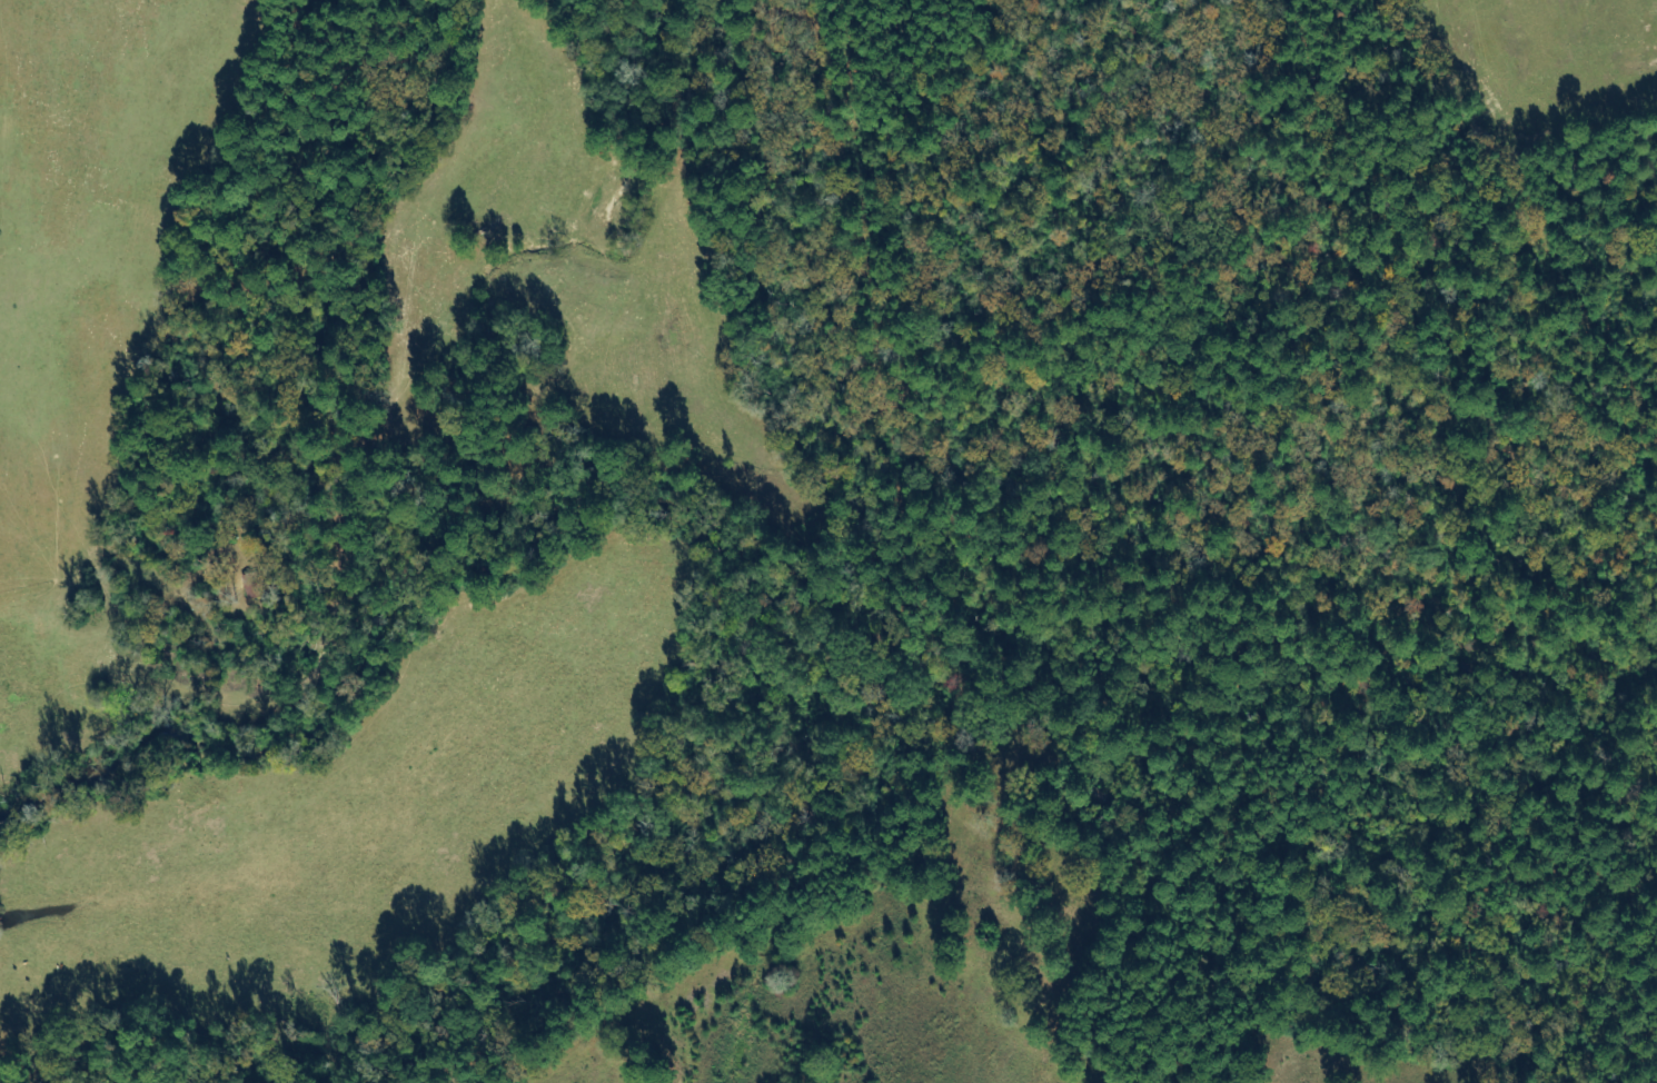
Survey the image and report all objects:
building: (261, 586)
road: (137, 652)

